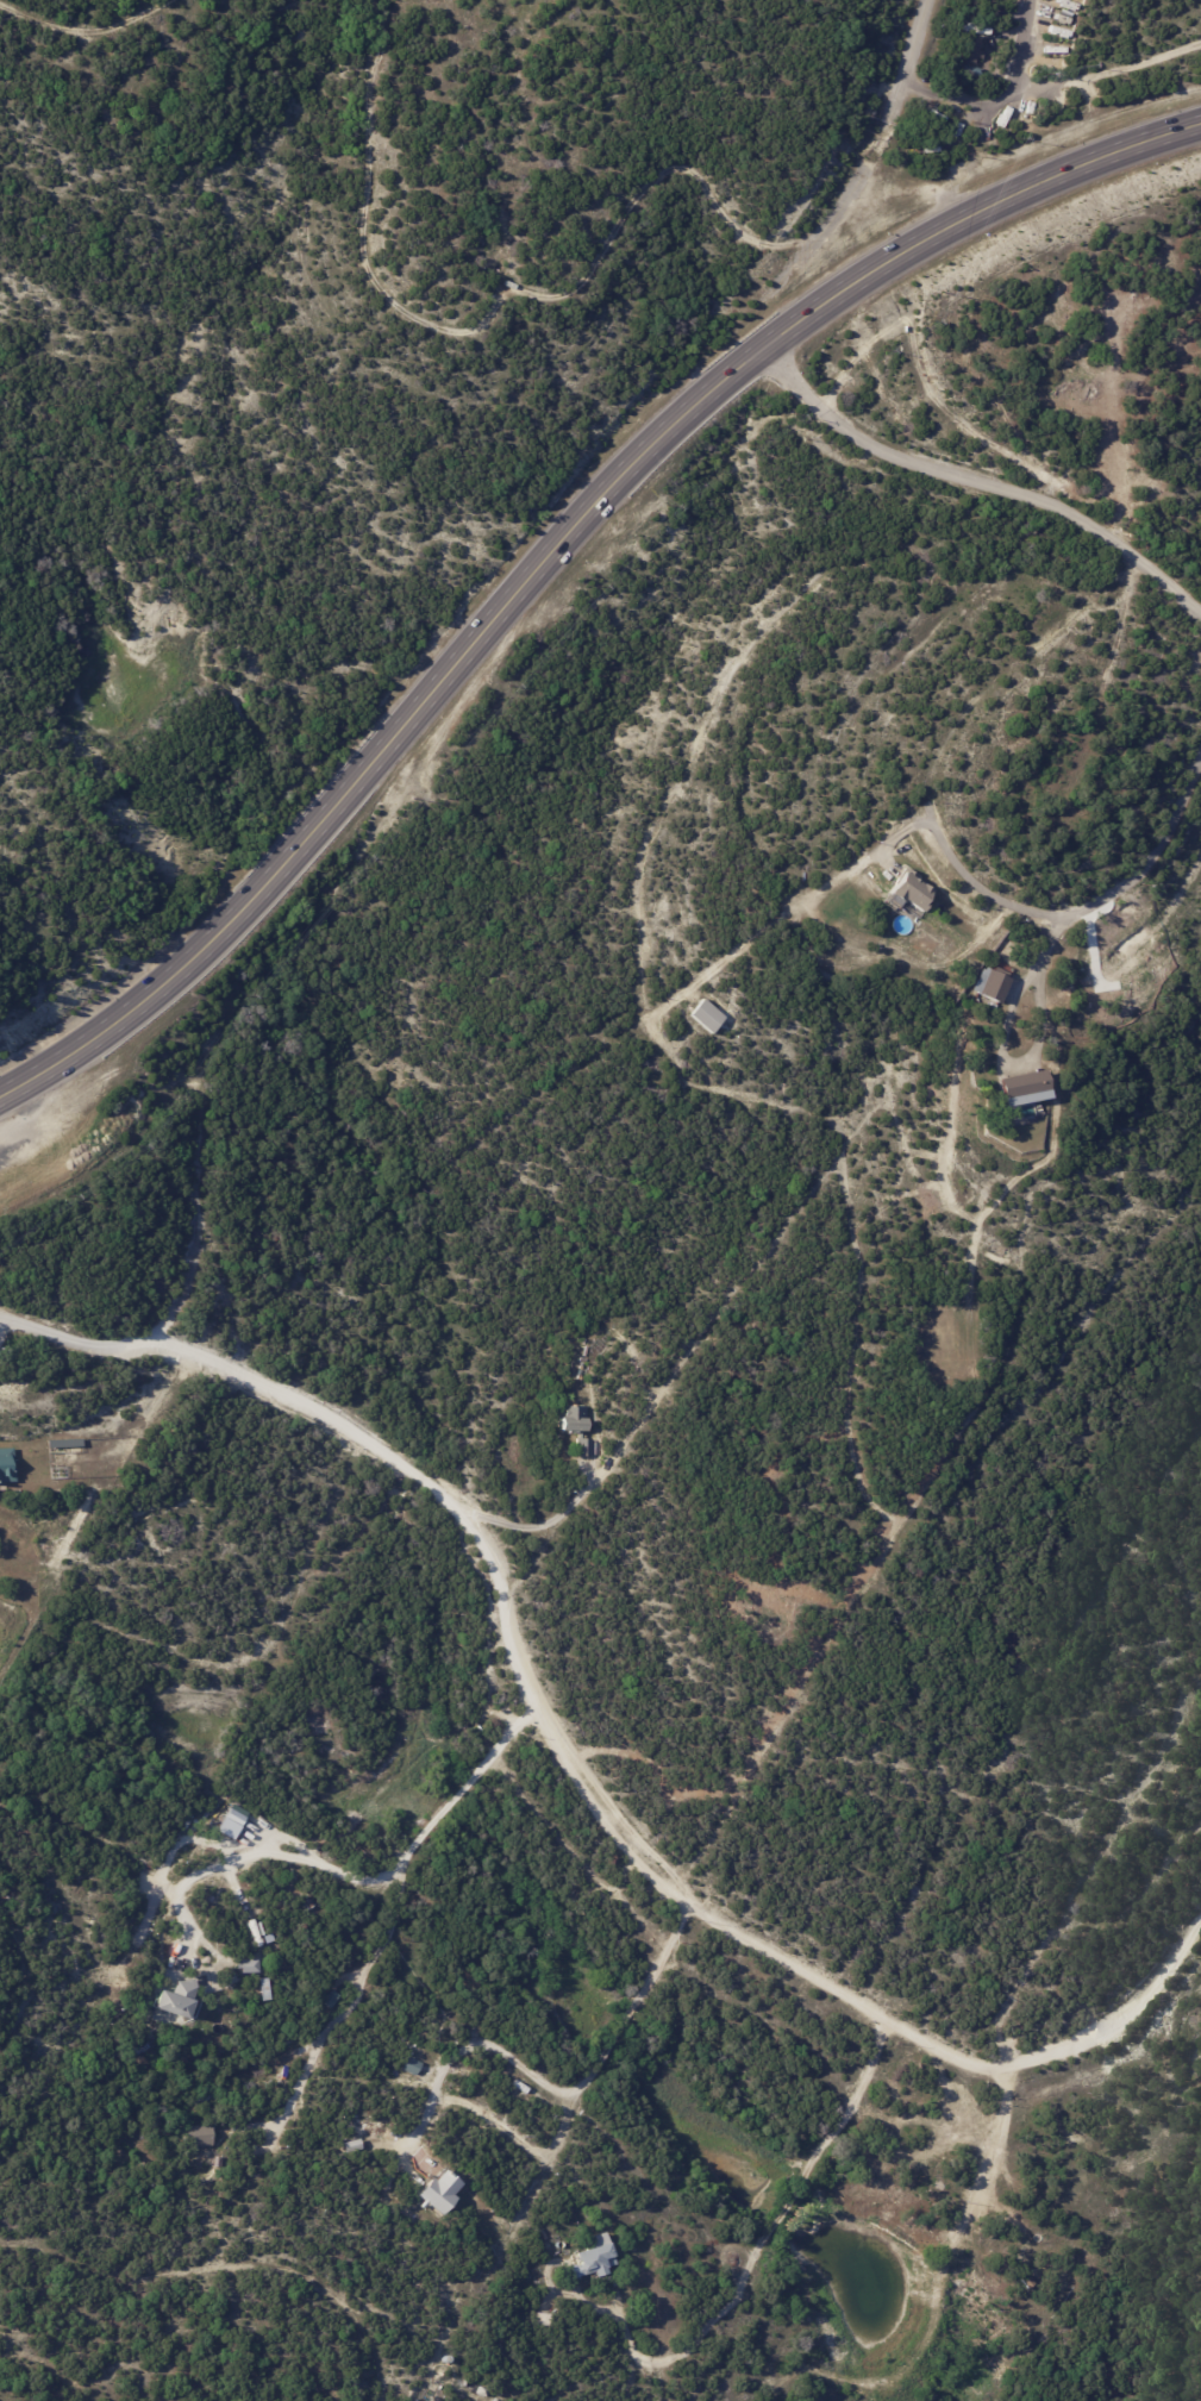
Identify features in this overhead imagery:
building: (971, 50)
road: (909, 56)
road: (1109, 69)
road: (1002, 99)
road: (986, 121)
road: (976, 480)
road: (556, 549)
building: (915, 890)
road: (1077, 909)
building: (995, 984)
building: (995, 1007)
building: (709, 1017)
road: (1037, 1046)
building: (1027, 1083)
building: (1000, 1249)
road: (5, 1321)
building: (598, 1351)
building: (575, 1419)
building: (586, 1448)
building: (7, 1464)
road: (537, 1526)
road: (569, 1767)
building: (231, 1820)
road: (254, 1869)
building: (308, 1905)
road: (398, 1921)
building: (248, 1967)
building: (331, 2001)
building: (179, 2002)
building: (140, 2049)
road: (469, 2057)
building: (158, 2063)
building: (411, 2065)
building: (523, 2088)
road: (590, 2093)
road: (495, 2131)
building: (196, 2134)
building: (355, 2147)
building: (438, 2195)
building: (594, 2258)
road: (750, 2261)
building: (1027, 2281)
building: (544, 2318)
building: (482, 2391)

